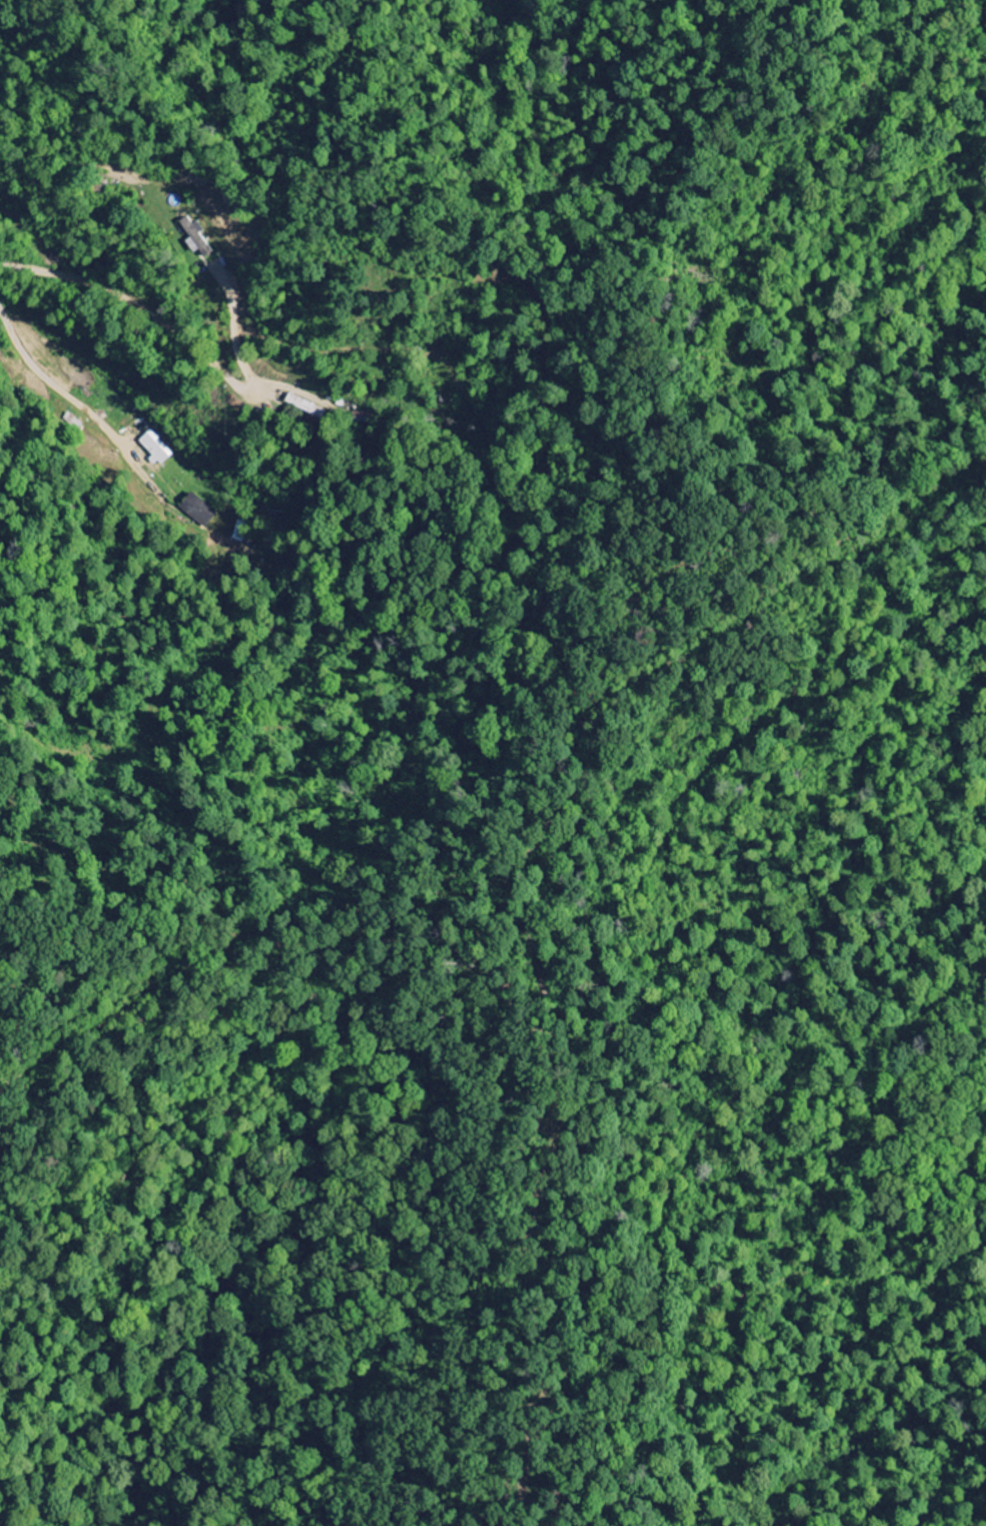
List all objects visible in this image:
building: (193, 237)
road: (59, 388)
building: (154, 448)
building: (196, 510)

